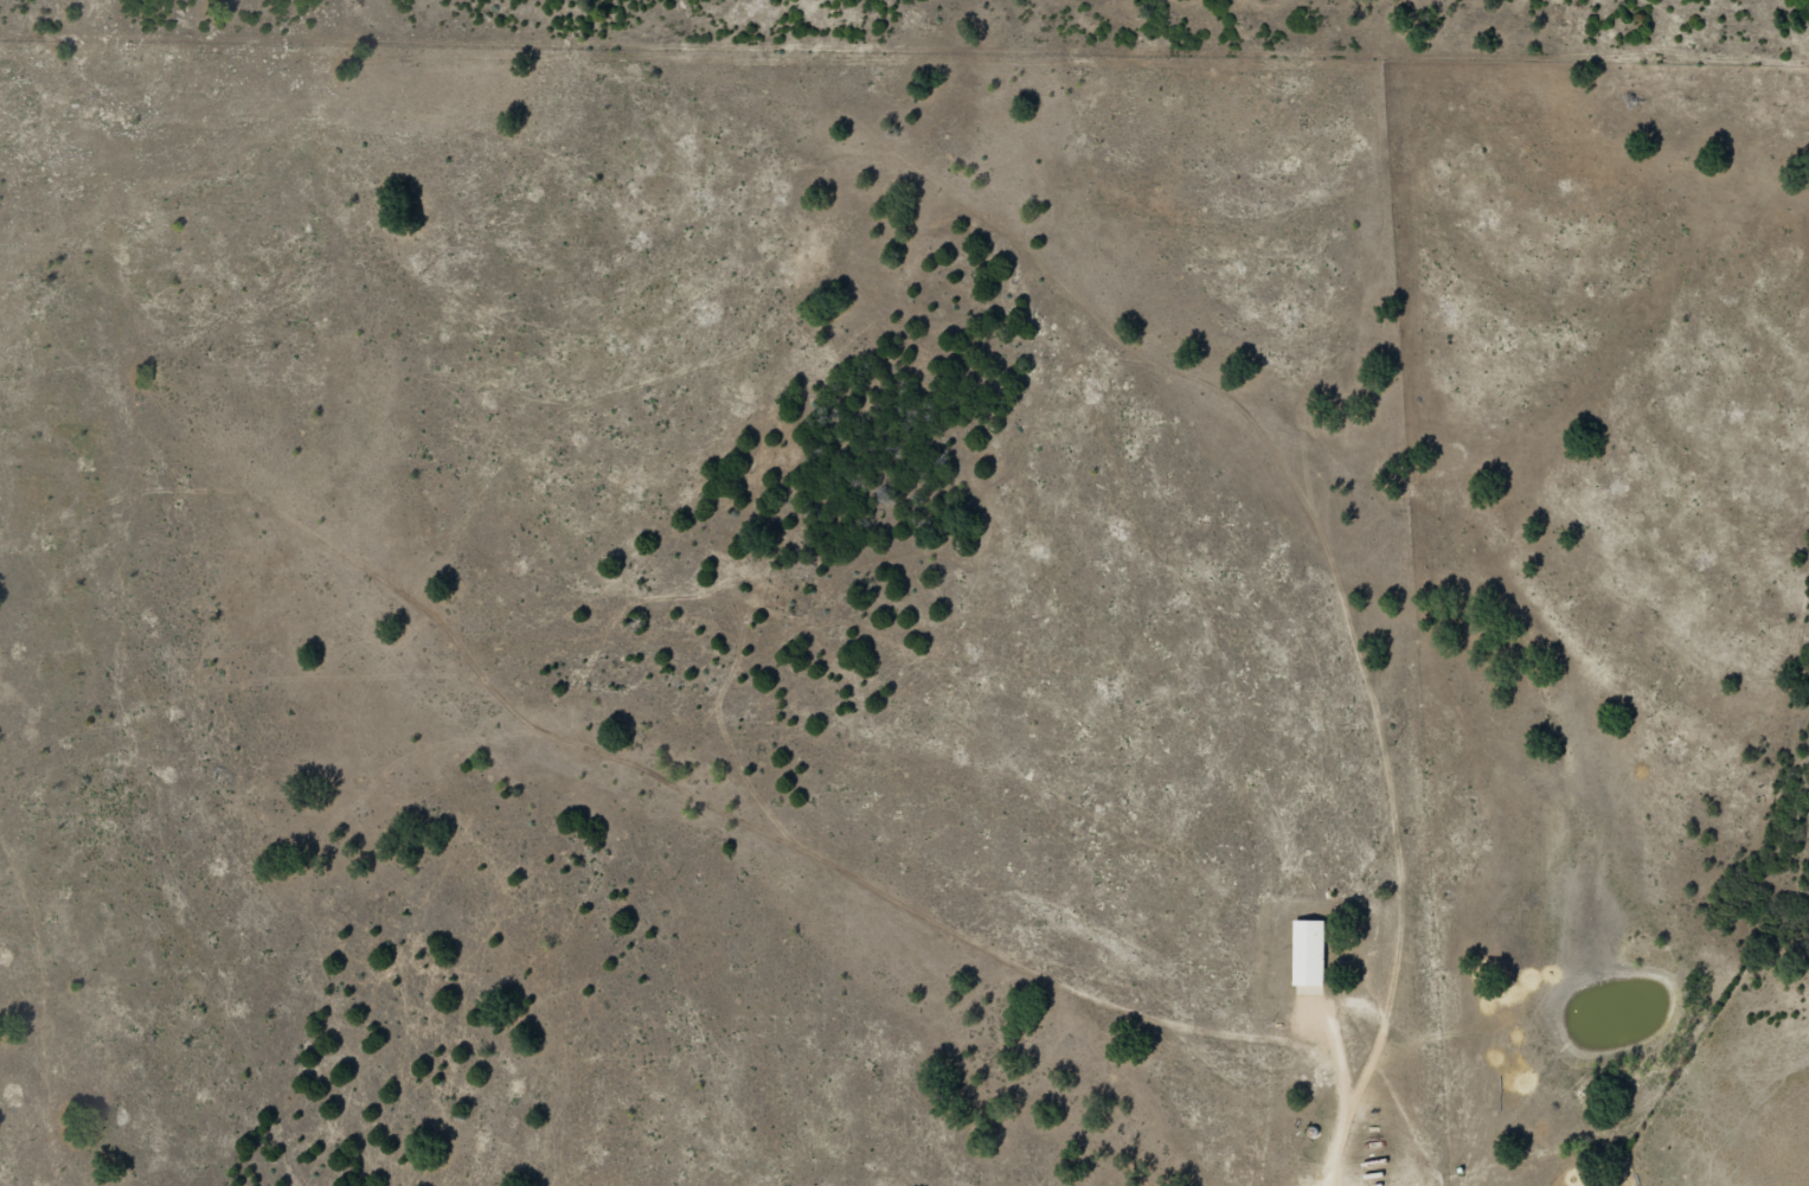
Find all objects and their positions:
building: (1308, 950)

